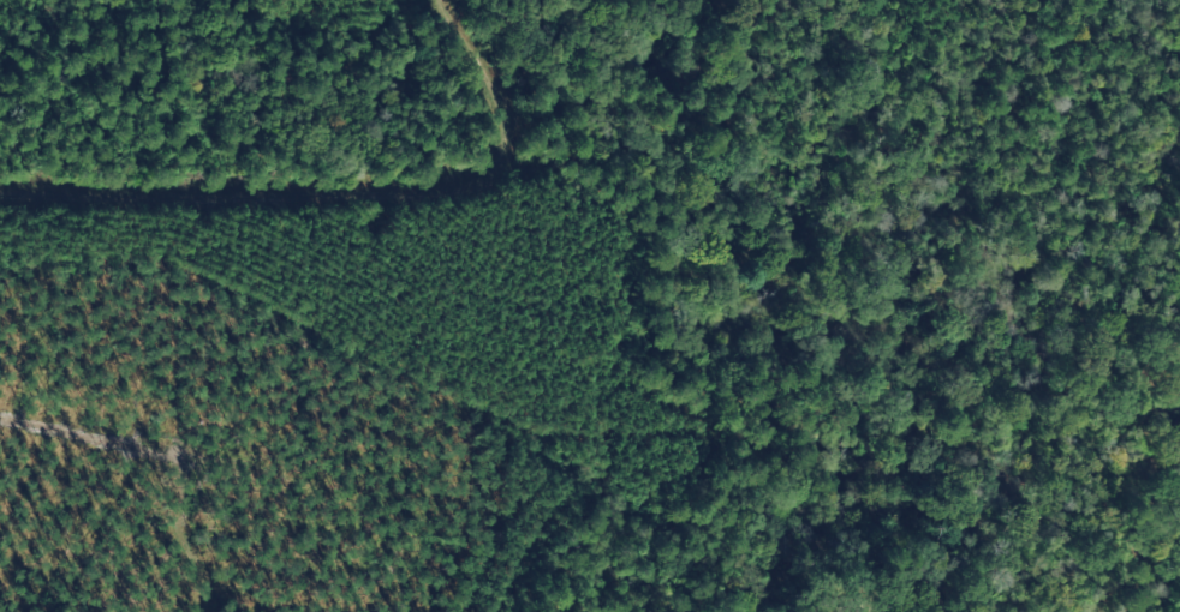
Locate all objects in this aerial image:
road: (483, 169)
road: (145, 193)

